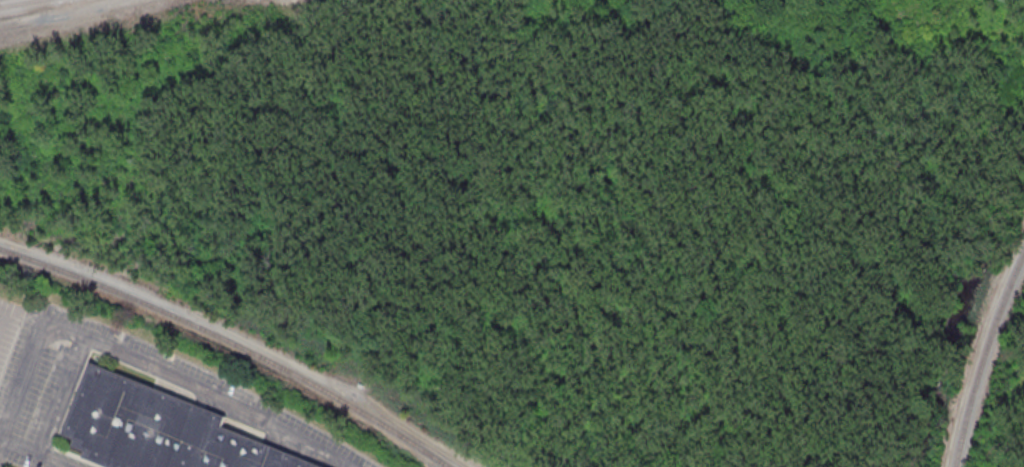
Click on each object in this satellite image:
railway: (20, 3)
road: (59, 17)
railway: (232, 342)
railway: (983, 357)
road: (144, 360)
building: (161, 429)
road: (39, 453)

